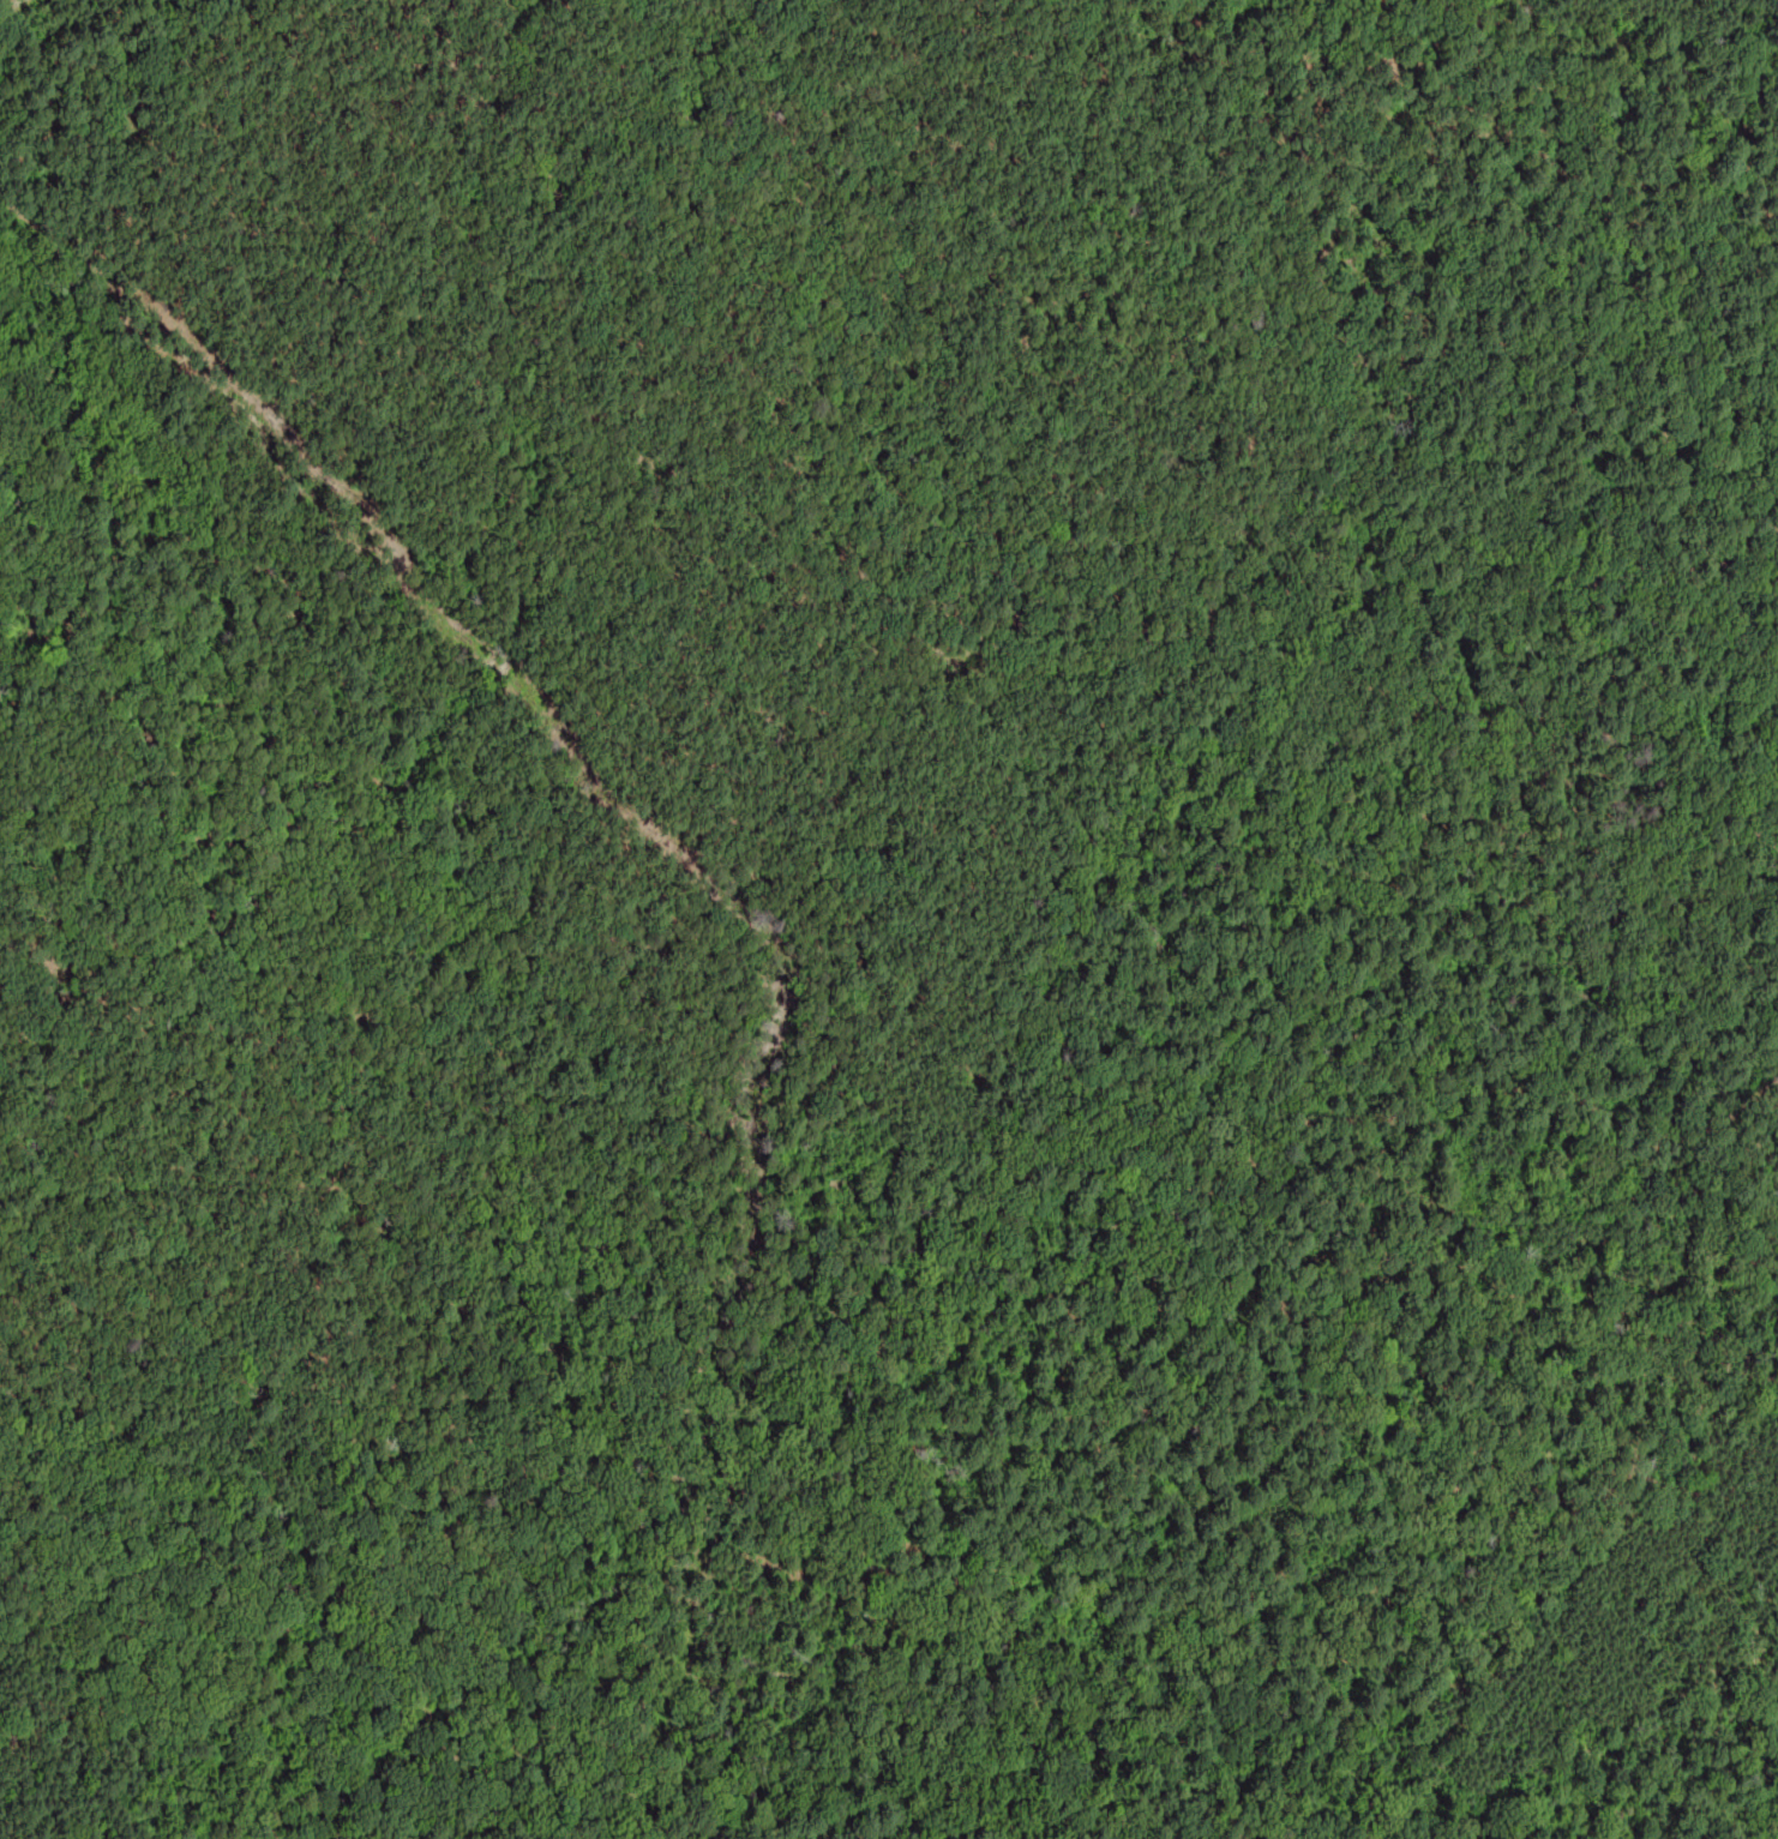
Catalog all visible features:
road: (11, 8)

